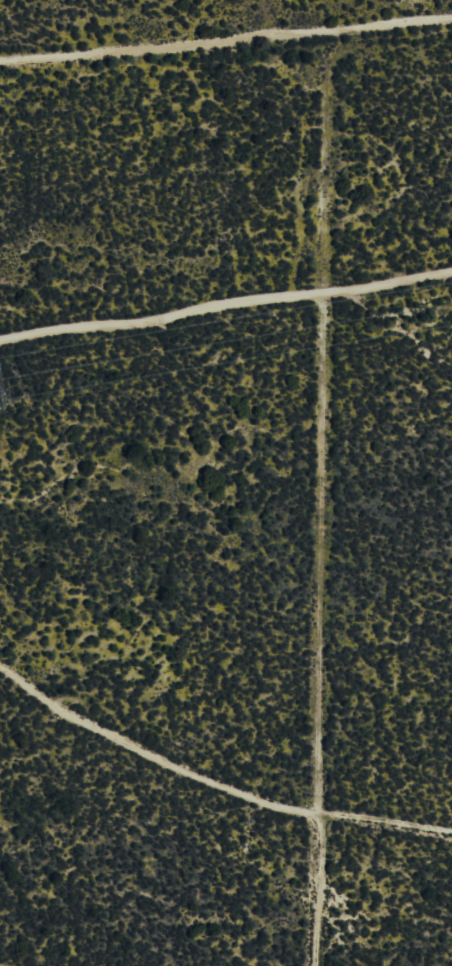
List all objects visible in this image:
road: (226, 41)
road: (213, 795)

